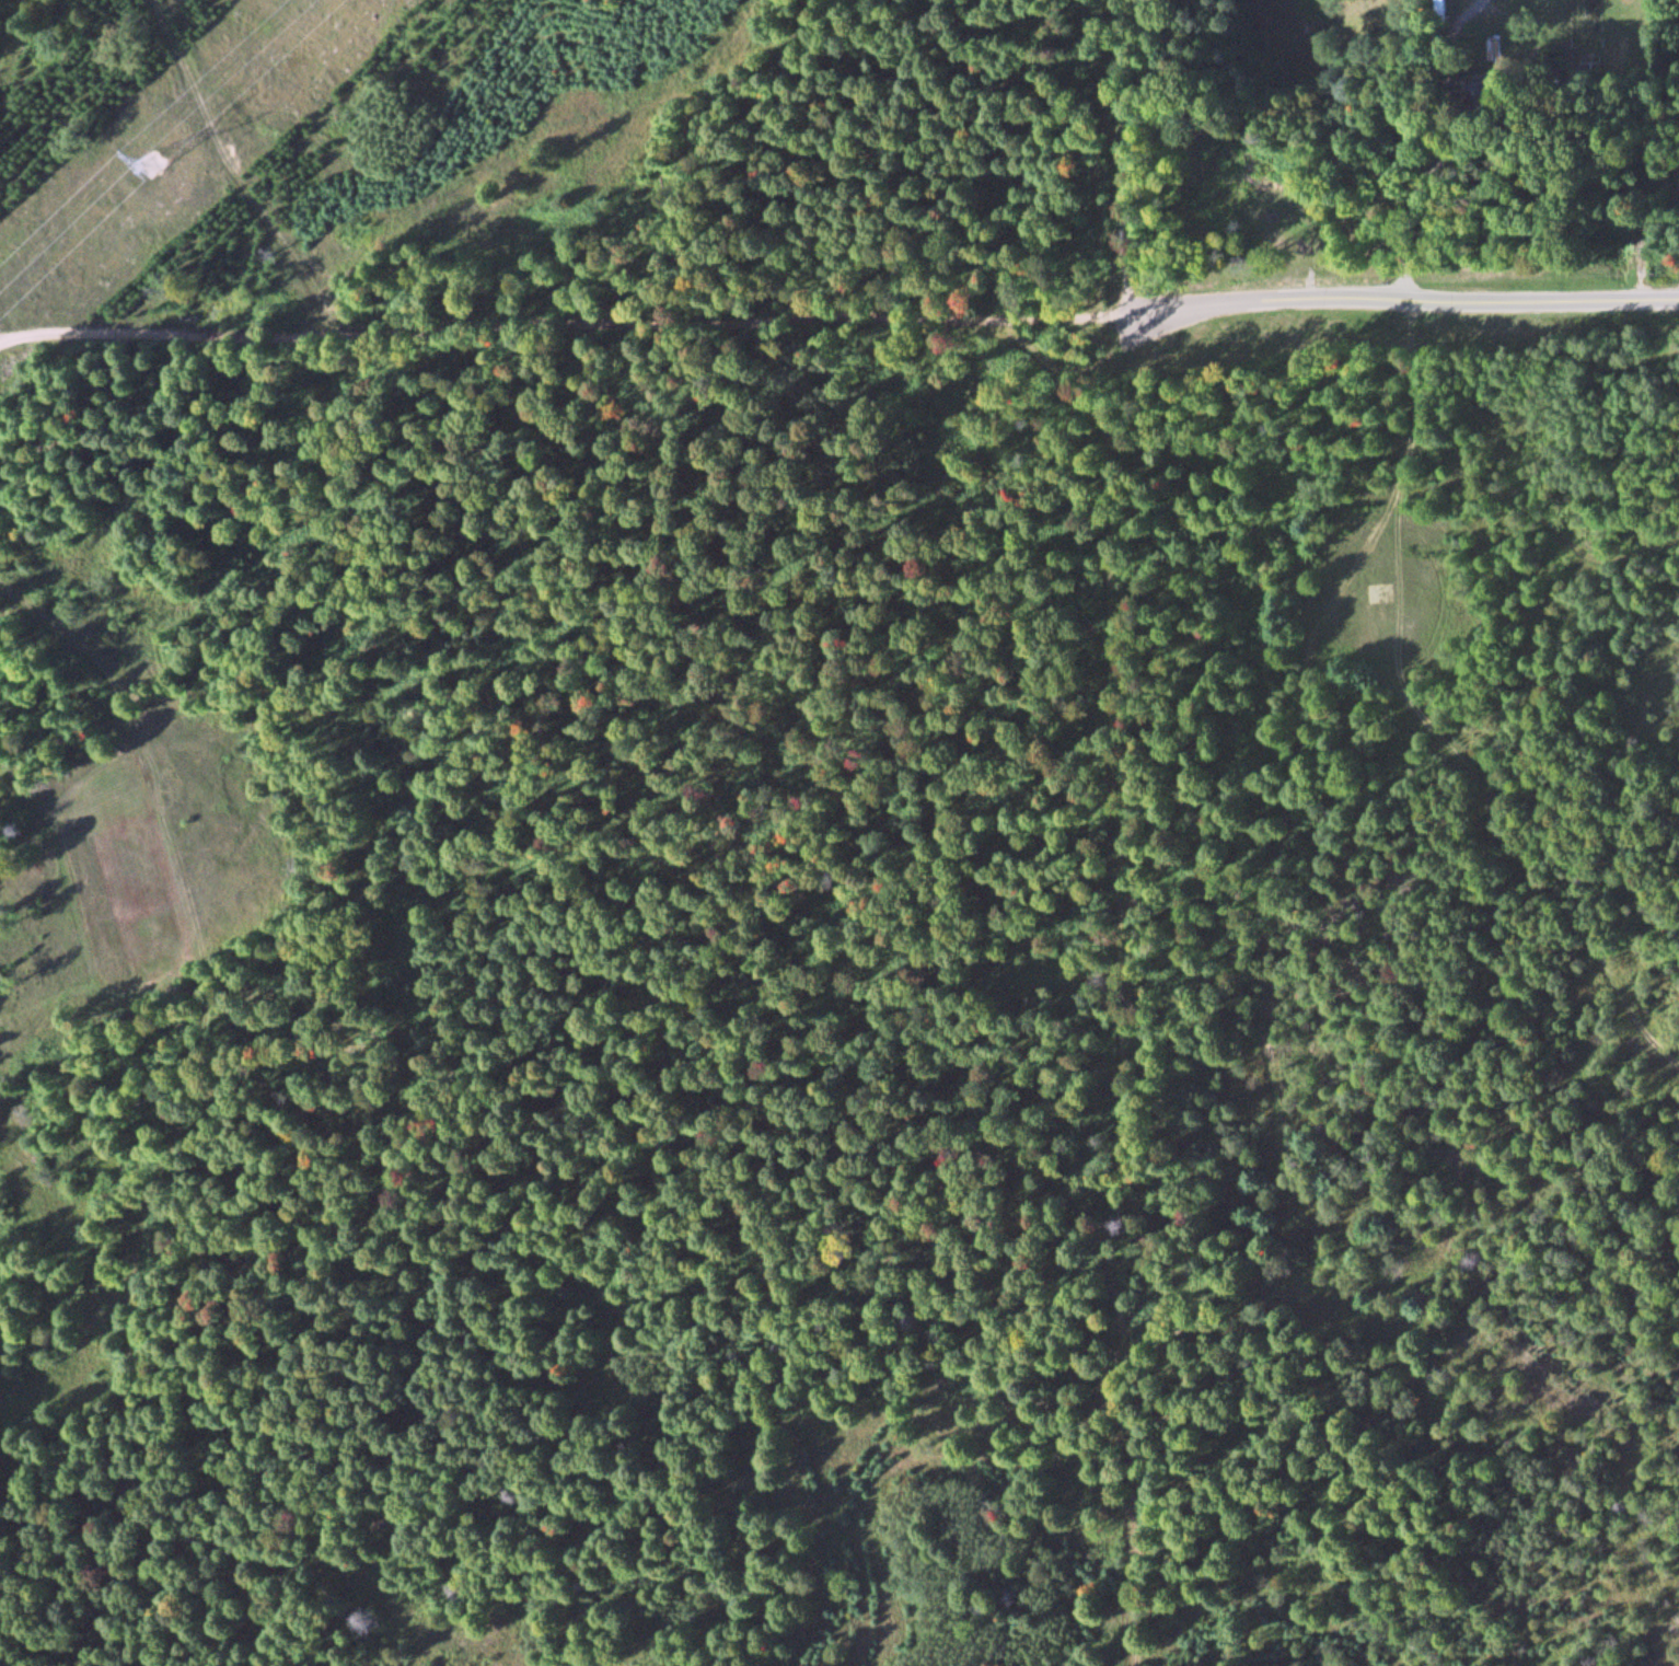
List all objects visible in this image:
power tower: (153, 160)
road: (1540, 299)
road: (700, 314)
road: (1423, 715)
road: (1131, 832)

